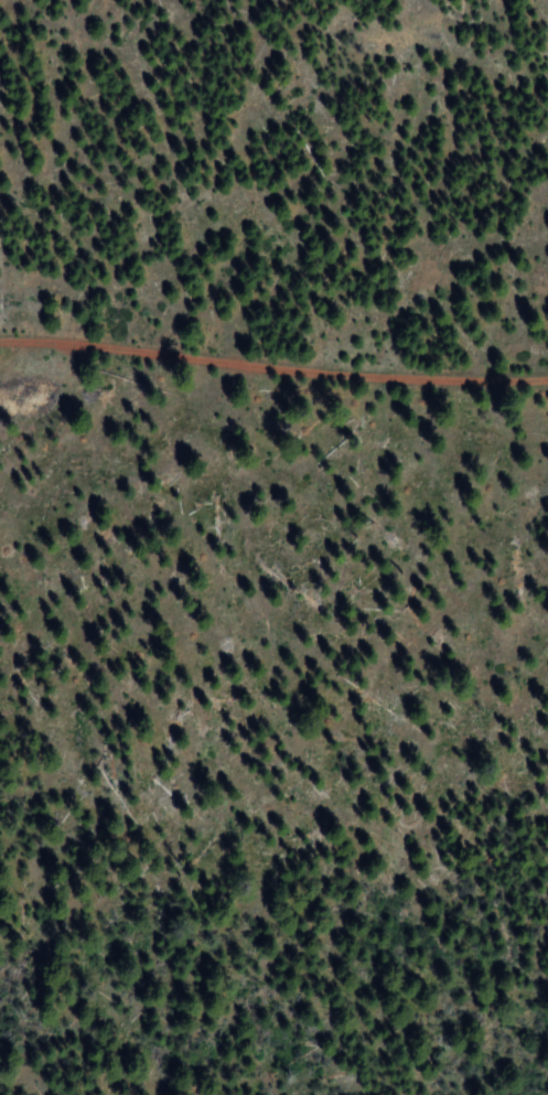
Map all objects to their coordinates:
road: (272, 366)

